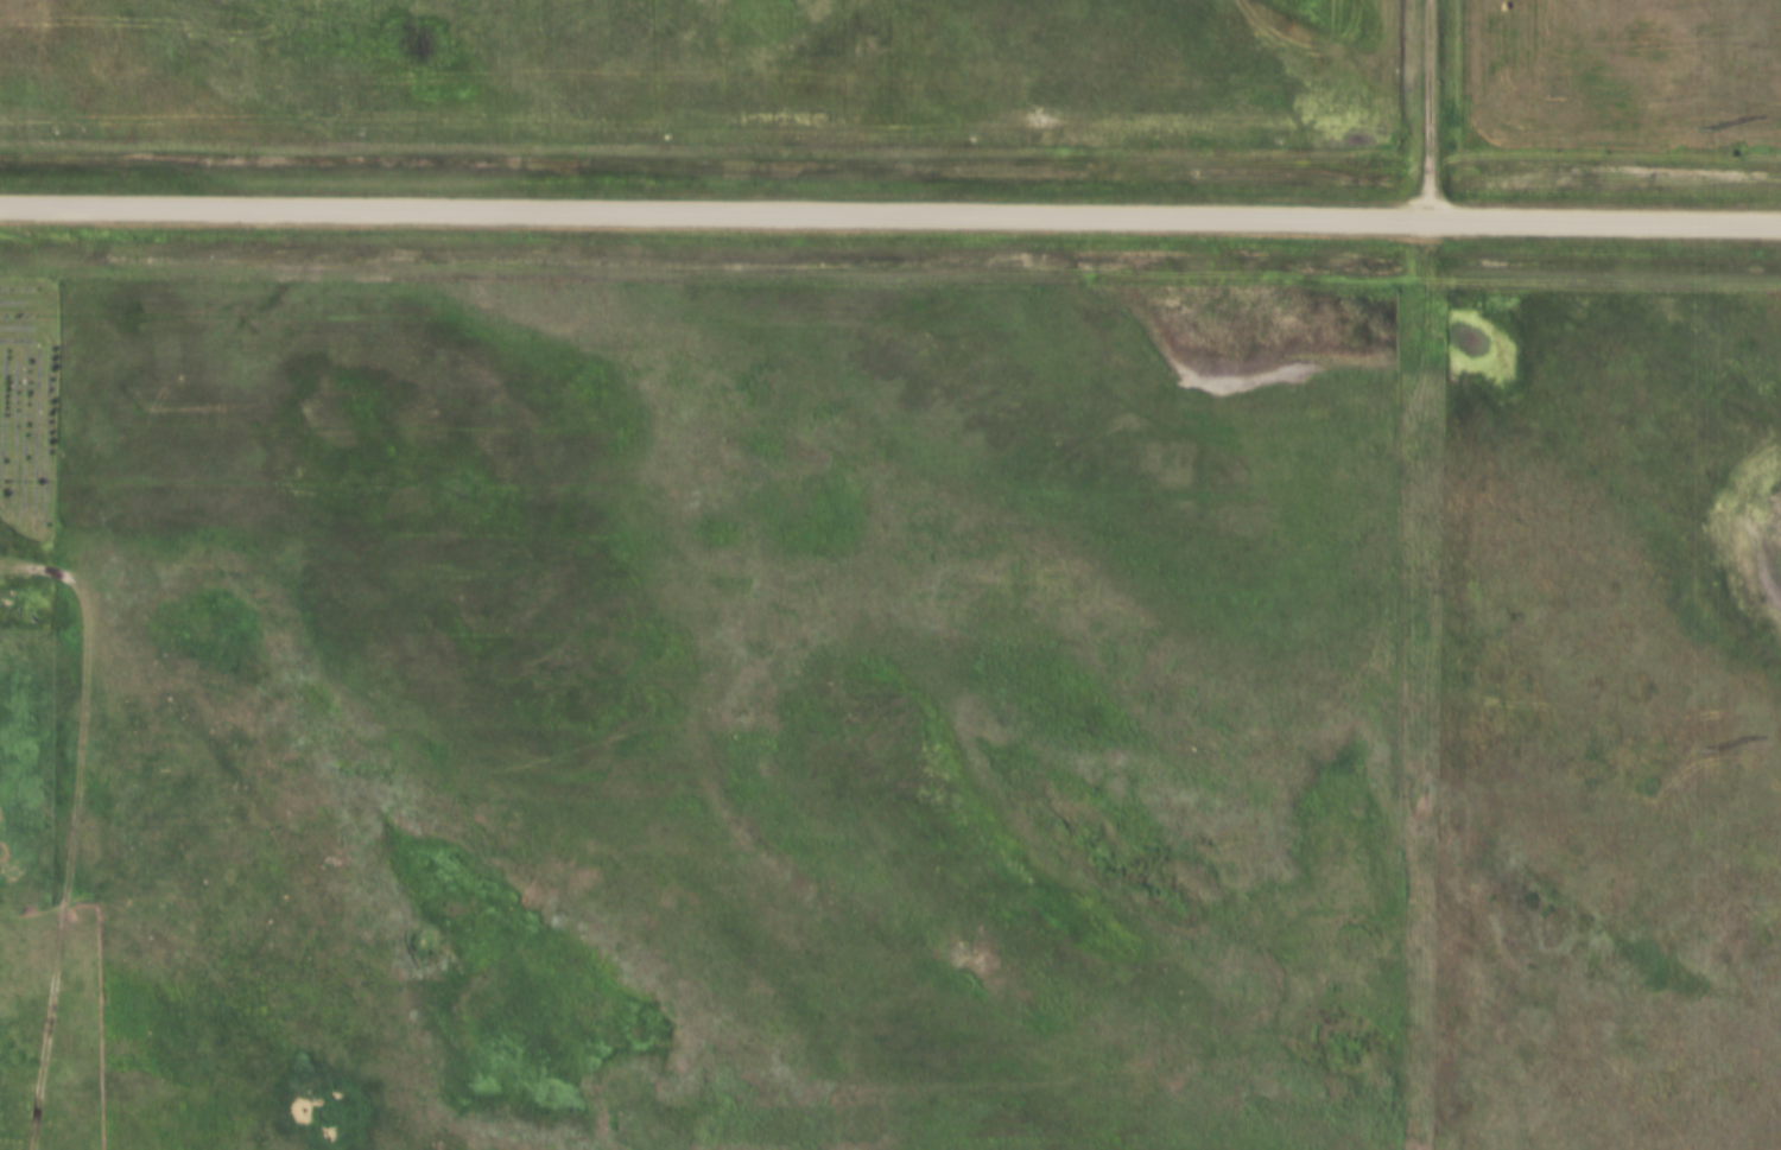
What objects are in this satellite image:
road: (1428, 107)
power tower: (1705, 129)
road: (890, 209)
power tower: (1705, 748)

